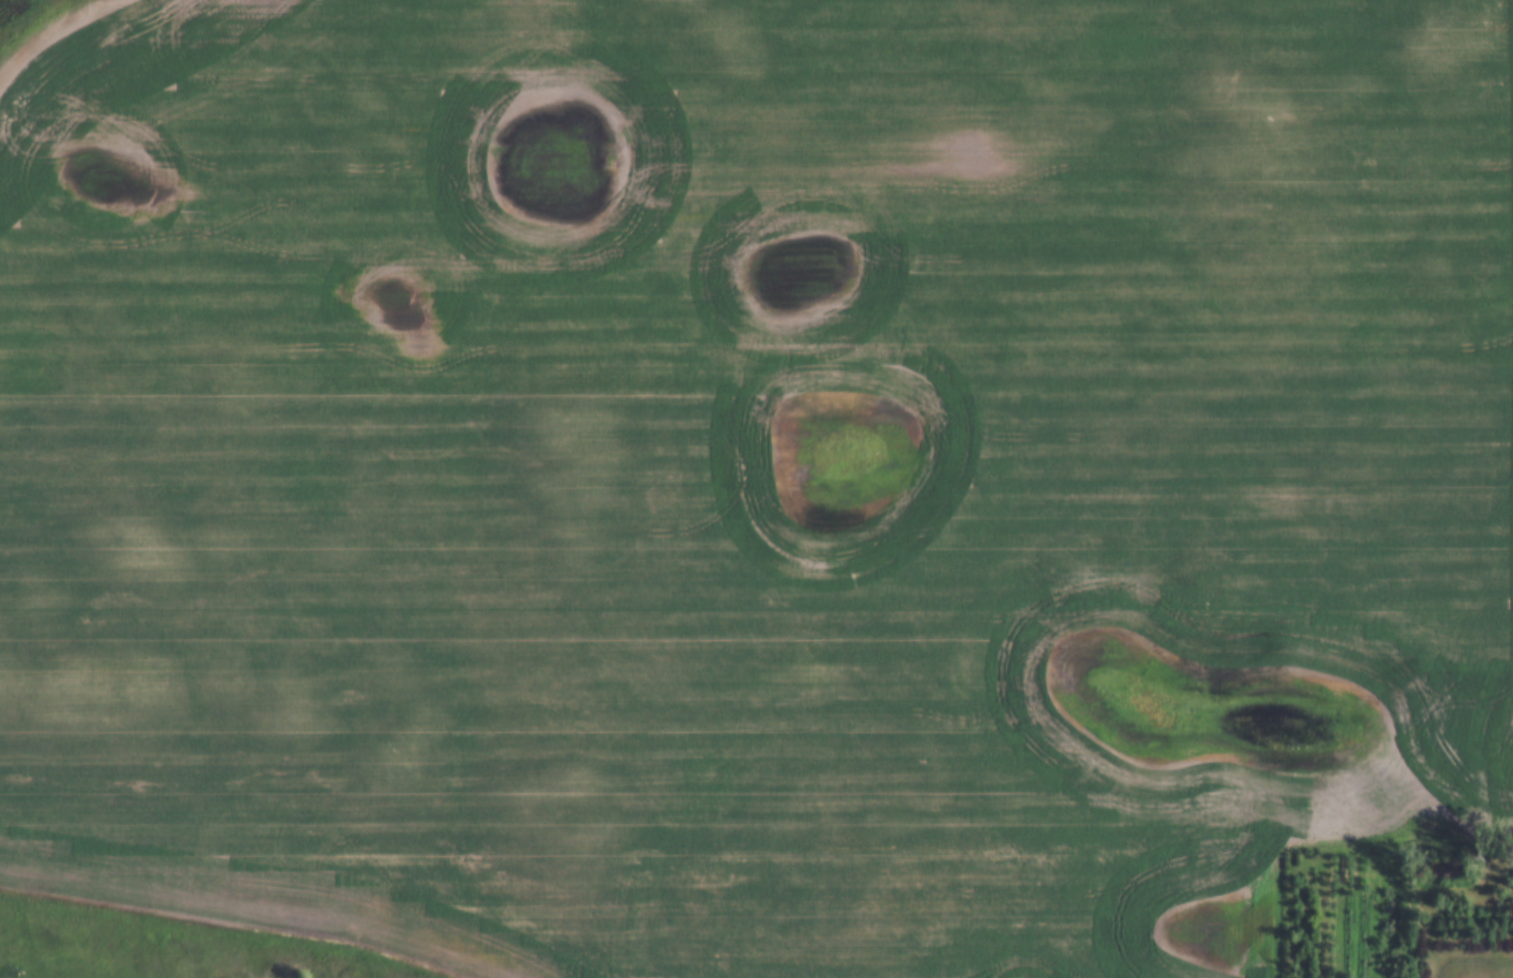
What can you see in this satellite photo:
crop: (750, 473)

